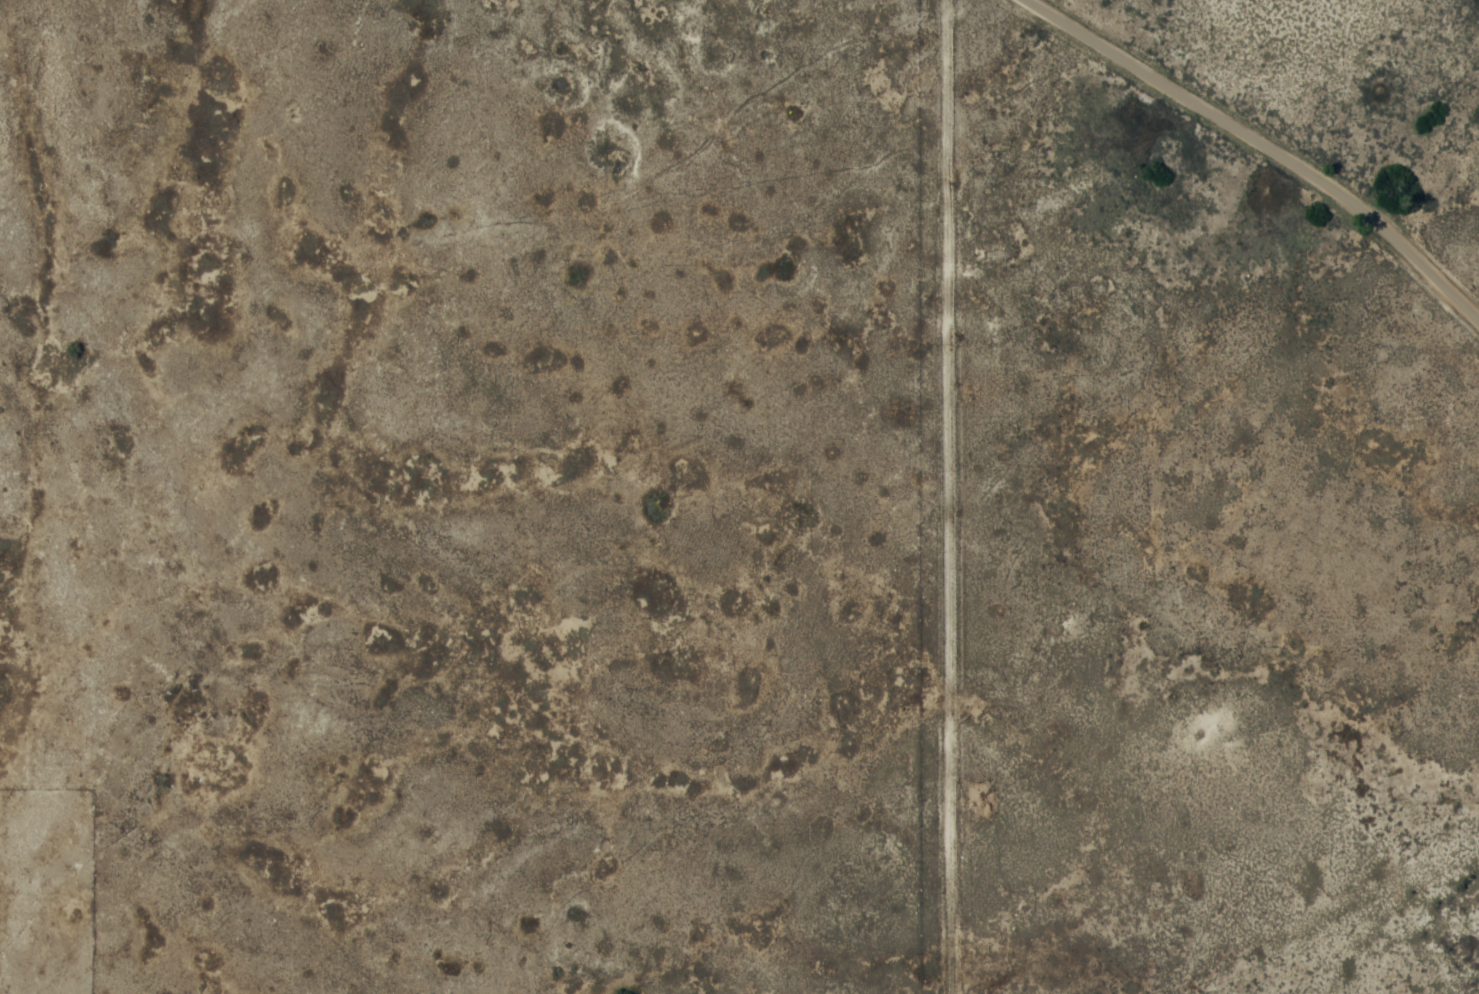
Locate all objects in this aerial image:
road: (1269, 143)

